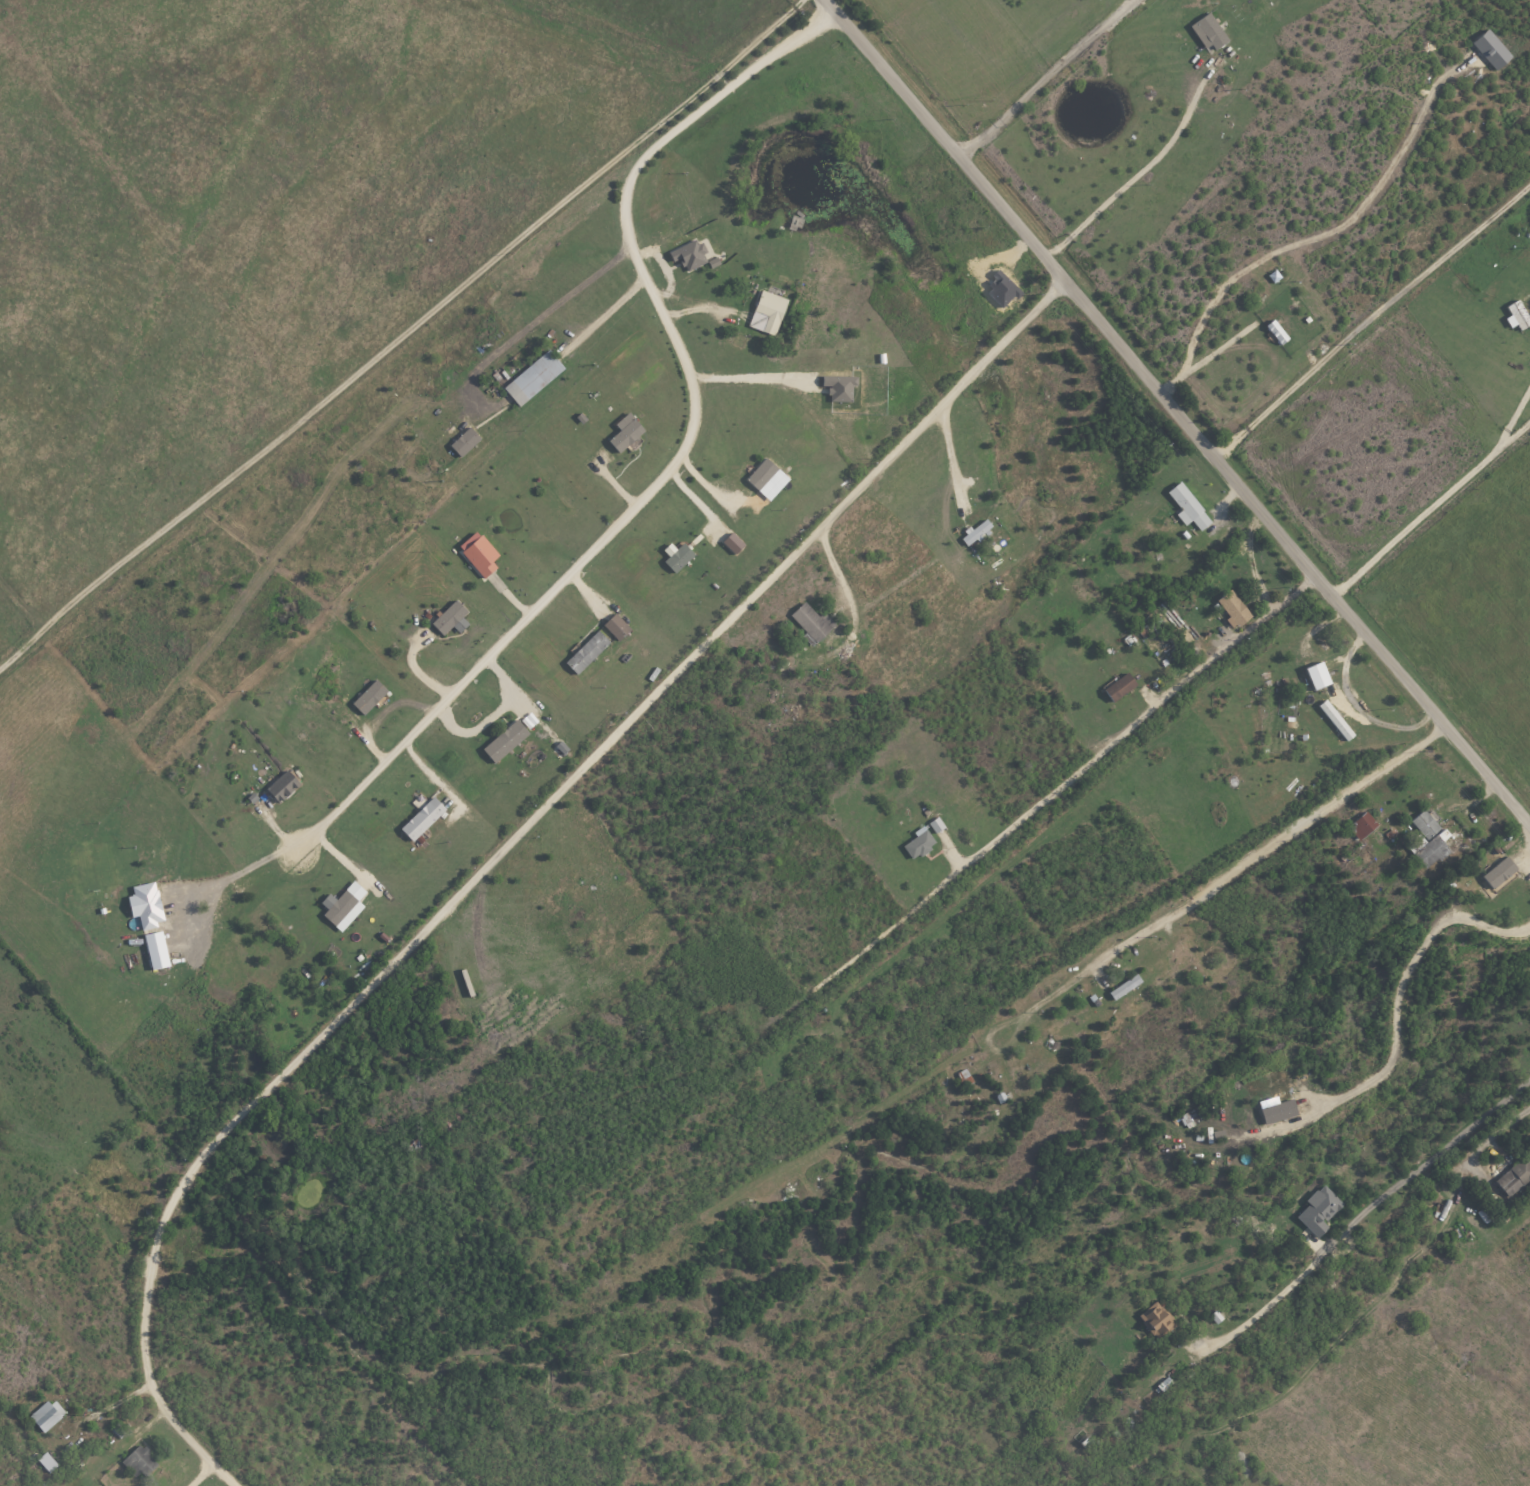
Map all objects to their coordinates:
building: (1209, 32)
building: (1492, 49)
road: (1045, 79)
road: (1138, 176)
road: (1339, 228)
building: (689, 255)
building: (768, 312)
road: (607, 313)
building: (1517, 316)
road: (540, 317)
road: (1371, 320)
building: (1276, 332)
road: (401, 336)
road: (1208, 357)
building: (534, 378)
building: (838, 387)
road: (1176, 413)
road: (1514, 416)
building: (625, 433)
building: (464, 442)
road: (685, 449)
road: (948, 455)
building: (766, 479)
building: (1188, 507)
road: (1429, 507)
building: (975, 532)
building: (732, 543)
building: (479, 554)
building: (676, 557)
road: (1249, 559)
road: (845, 597)
building: (1232, 609)
building: (451, 619)
building: (811, 621)
building: (616, 627)
building: (587, 653)
building: (1316, 675)
building: (1119, 687)
building: (369, 697)
road: (1356, 708)
road: (494, 715)
building: (1336, 720)
road: (1135, 721)
building: (505, 741)
building: (282, 786)
building: (422, 819)
building: (1425, 824)
building: (936, 825)
building: (1362, 825)
building: (919, 843)
road: (502, 852)
road: (1256, 857)
building: (1498, 872)
road: (235, 873)
building: (145, 906)
building: (344, 907)
building: (156, 951)
building: (1124, 987)
building: (1277, 1111)
road: (1508, 1125)
building: (1514, 1177)
road: (1369, 1209)
building: (1318, 1210)
building: (1156, 1322)
road: (112, 1404)
building: (47, 1415)
building: (141, 1462)
road: (201, 1473)

